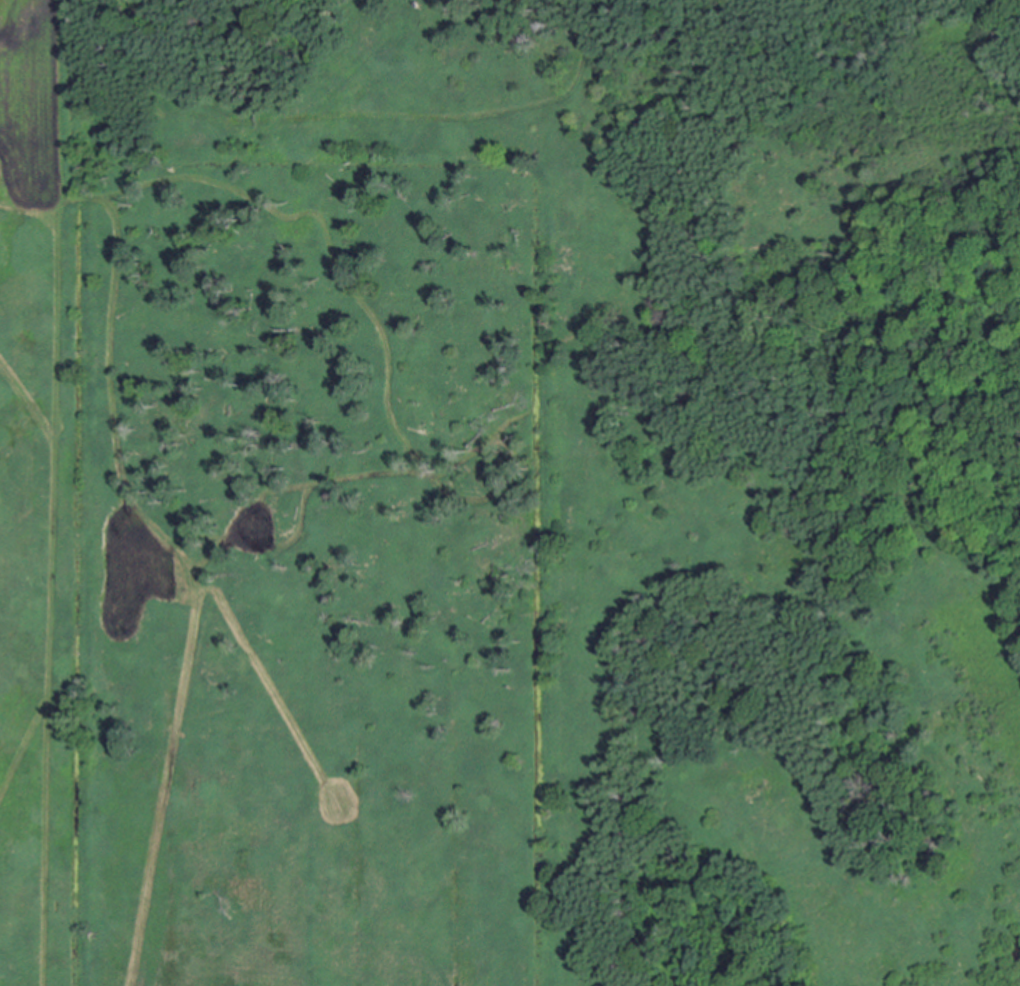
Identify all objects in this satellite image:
river: (1010, 979)

